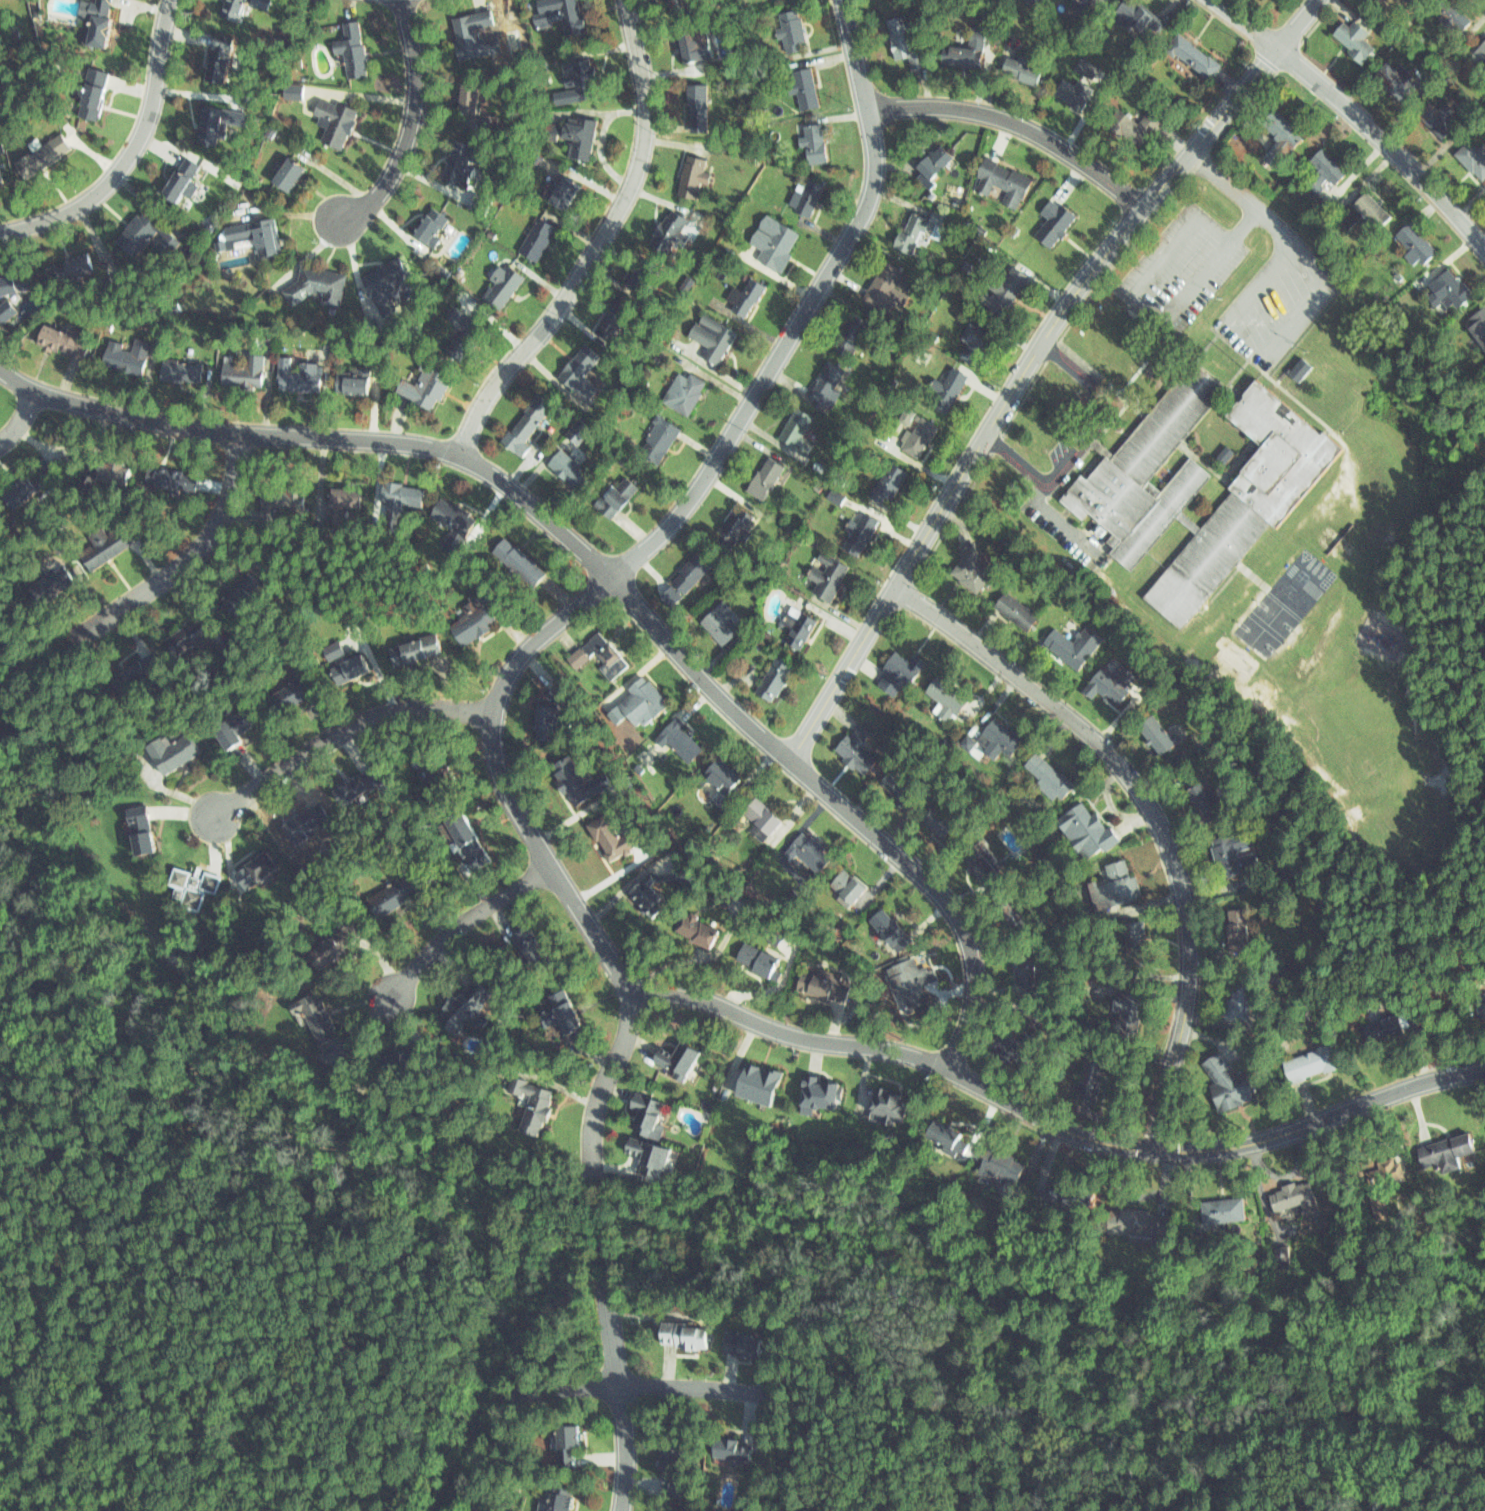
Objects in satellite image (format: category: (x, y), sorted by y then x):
building: (673, 1)
building: (1413, 1)
building: (262, 2)
building: (1081, 5)
building: (230, 9)
building: (1459, 9)
building: (556, 14)
building: (1134, 16)
building: (1455, 19)
building: (94, 21)
building: (789, 23)
building: (469, 33)
building: (1358, 33)
building: (690, 40)
building: (902, 41)
building: (348, 45)
building: (1483, 46)
building: (963, 49)
building: (1191, 53)
building: (217, 58)
building: (1018, 65)
building: (1395, 72)
building: (575, 80)
building: (1082, 85)
building: (803, 86)
building: (291, 88)
building: (92, 89)
building: (467, 93)
building: (698, 102)
building: (1440, 113)
road: (1357, 114)
building: (334, 121)
building: (490, 121)
building: (210, 123)
building: (1286, 123)
road: (1018, 124)
building: (1132, 125)
road: (412, 128)
building: (546, 130)
building: (577, 136)
building: (811, 138)
building: (43, 151)
building: (1474, 152)
road: (132, 154)
building: (933, 158)
building: (1328, 162)
building: (458, 163)
building: (282, 172)
building: (687, 177)
building: (997, 177)
building: (178, 179)
building: (1, 181)
building: (555, 192)
building: (566, 193)
building: (808, 196)
building: (1375, 200)
building: (480, 204)
building: (1372, 210)
building: (1050, 219)
building: (429, 225)
building: (907, 229)
building: (249, 231)
building: (141, 233)
building: (666, 234)
building: (532, 237)
building: (1418, 239)
building: (771, 242)
road: (598, 244)
building: (67, 267)
building: (638, 275)
building: (13, 280)
building: (885, 282)
building: (382, 283)
building: (499, 284)
building: (1449, 284)
building: (318, 287)
building: (1000, 287)
building: (744, 297)
building: (5, 309)
road: (1148, 312)
building: (614, 318)
road: (1303, 319)
building: (1479, 322)
building: (850, 333)
building: (462, 336)
building: (708, 336)
building: (63, 339)
building: (970, 341)
building: (123, 353)
road: (1032, 363)
building: (176, 368)
building: (238, 370)
building: (292, 375)
building: (583, 376)
building: (351, 382)
building: (423, 383)
building: (819, 385)
building: (943, 388)
building: (679, 391)
road: (22, 422)
building: (792, 428)
building: (521, 429)
building: (575, 431)
road: (1079, 436)
building: (915, 437)
building: (660, 440)
building: (110, 468)
building: (567, 469)
building: (760, 473)
building: (1200, 474)
building: (159, 476)
building: (88, 482)
building: (33, 484)
building: (885, 485)
building: (12, 490)
building: (397, 493)
building: (833, 496)
building: (618, 499)
building: (282, 503)
building: (341, 503)
road: (1048, 511)
building: (448, 514)
building: (732, 527)
building: (856, 530)
building: (99, 545)
building: (994, 545)
building: (515, 557)
road: (183, 565)
building: (966, 566)
road: (606, 571)
building: (825, 571)
building: (689, 573)
building: (42, 583)
road: (599, 587)
building: (235, 595)
building: (1009, 610)
building: (467, 619)
building: (720, 623)
building: (796, 624)
building: (180, 633)
building: (413, 643)
building: (1067, 644)
building: (328, 646)
building: (230, 651)
building: (335, 651)
building: (596, 654)
building: (343, 663)
building: (351, 669)
building: (140, 671)
building: (895, 672)
building: (772, 676)
building: (116, 677)
building: (1114, 677)
building: (286, 692)
building: (944, 696)
building: (634, 704)
building: (540, 722)
building: (227, 727)
building: (1158, 728)
road: (342, 730)
building: (999, 737)
building: (677, 738)
building: (962, 741)
building: (849, 745)
building: (167, 754)
building: (426, 758)
building: (1049, 770)
building: (715, 774)
building: (350, 776)
building: (568, 776)
building: (887, 784)
building: (358, 785)
building: (1205, 793)
road: (1154, 815)
building: (754, 817)
building: (934, 817)
building: (300, 821)
building: (1087, 827)
building: (137, 828)
building: (604, 834)
building: (467, 839)
building: (1232, 844)
building: (978, 851)
building: (803, 852)
building: (249, 862)
building: (258, 869)
building: (1116, 883)
building: (189, 884)
building: (842, 886)
building: (639, 893)
building: (388, 894)
building: (1014, 898)
road: (461, 922)
building: (1238, 922)
building: (882, 923)
building: (687, 924)
building: (768, 931)
building: (1140, 931)
building: (525, 941)
building: (323, 945)
building: (750, 958)
building: (1024, 958)
building: (904, 979)
building: (819, 984)
building: (1236, 990)
building: (1483, 998)
building: (457, 1002)
building: (1129, 1002)
building: (554, 1005)
building: (315, 1017)
building: (1380, 1021)
building: (1010, 1045)
building: (1304, 1054)
building: (672, 1056)
building: (406, 1060)
building: (1226, 1076)
building: (1091, 1079)
building: (755, 1082)
building: (818, 1092)
building: (890, 1099)
building: (525, 1102)
building: (642, 1113)
road: (1051, 1122)
building: (946, 1127)
building: (1443, 1146)
building: (641, 1154)
building: (1009, 1160)
building: (1074, 1184)
building: (1379, 1186)
building: (1067, 1195)
building: (1287, 1195)
building: (1219, 1205)
building: (1132, 1214)
building: (1281, 1255)
building: (688, 1335)
building: (737, 1342)
road: (631, 1385)
road: (624, 1397)
building: (567, 1439)
building: (725, 1446)
building: (667, 1469)
building: (561, 1497)
building: (667, 1510)

